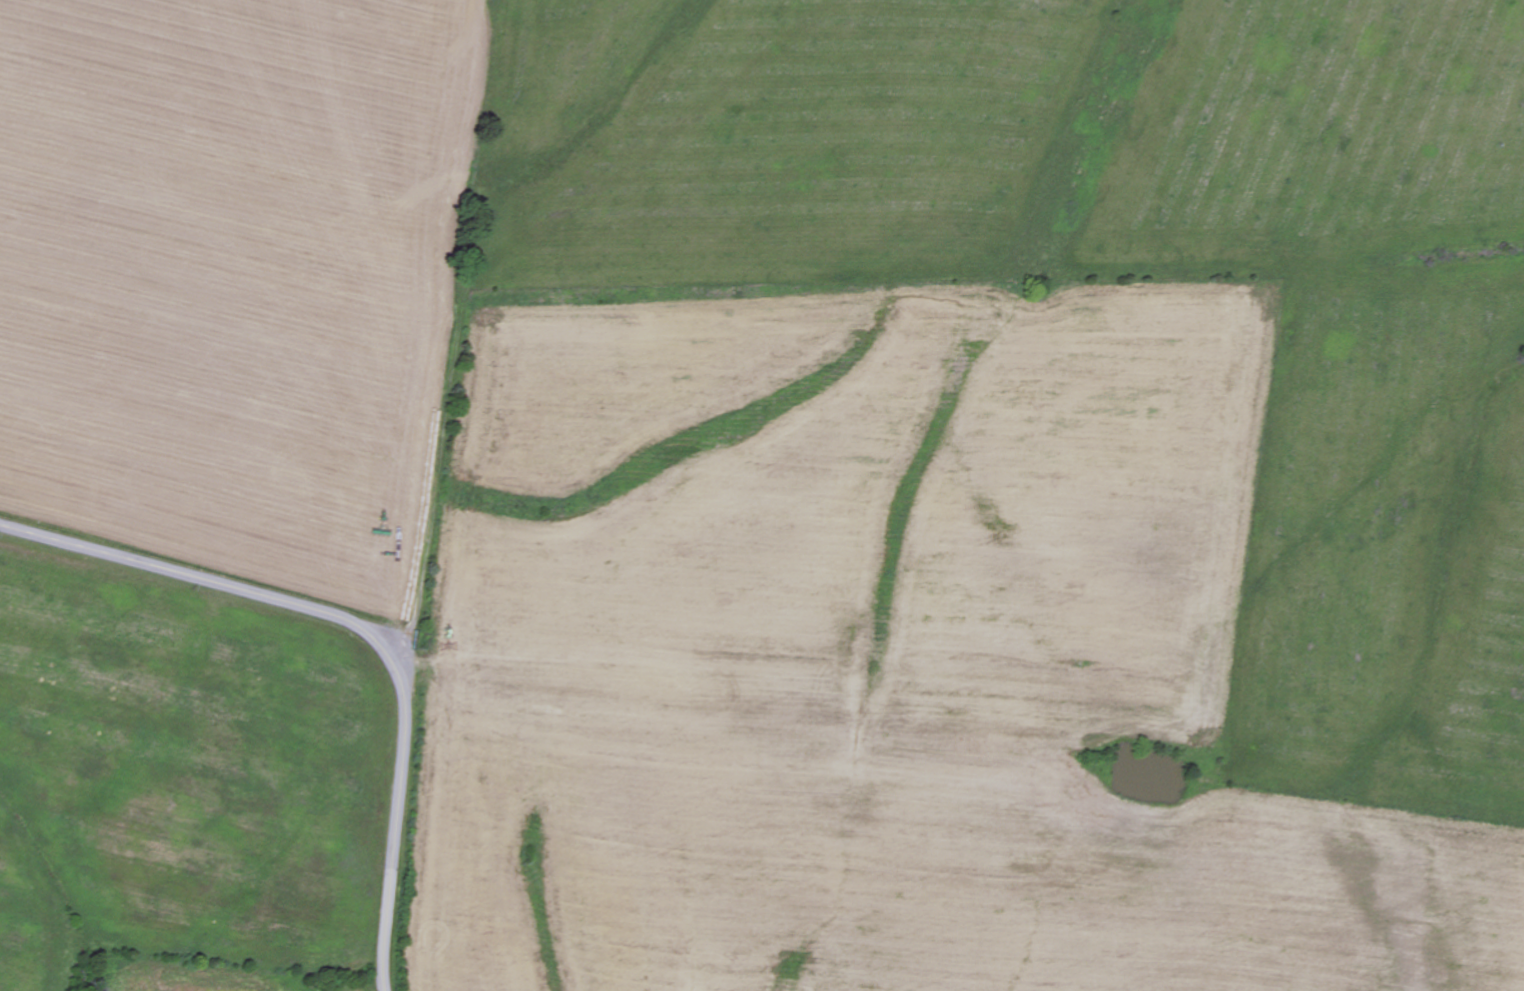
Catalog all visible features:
road: (1518, 267)
road: (805, 306)
road: (360, 630)

